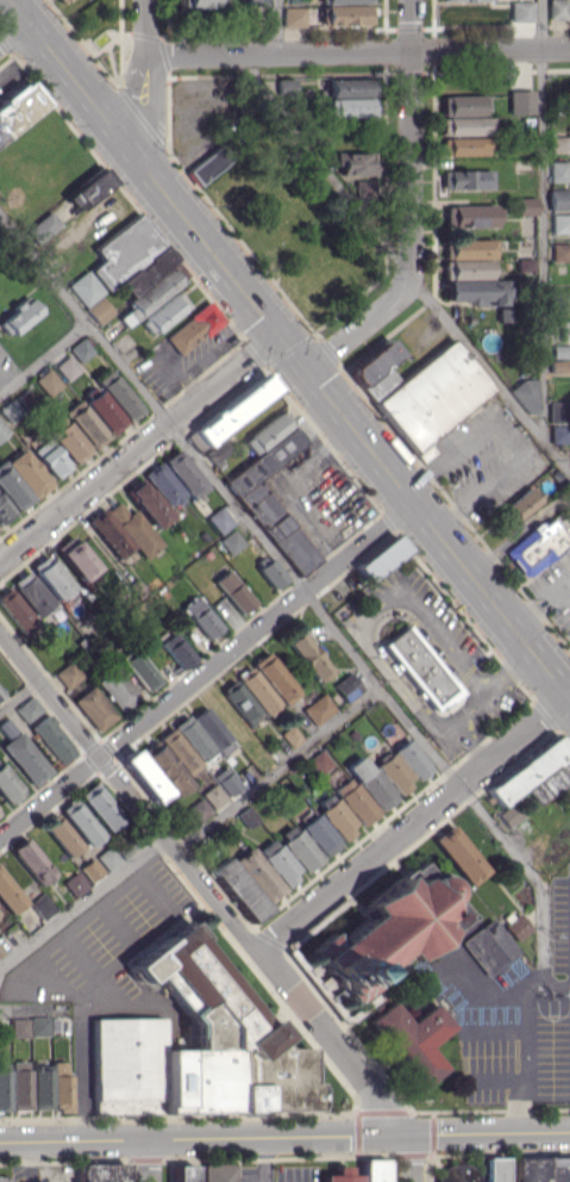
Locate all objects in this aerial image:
building: (481, 0)
building: (62, 1)
building: (344, 1)
building: (203, 2)
building: (257, 2)
building: (557, 10)
road: (15, 11)
building: (521, 11)
building: (344, 14)
building: (293, 15)
road: (277, 26)
road: (12, 32)
road: (357, 51)
road: (144, 81)
building: (284, 86)
building: (347, 87)
building: (520, 101)
building: (462, 105)
building: (19, 107)
building: (346, 107)
building: (465, 125)
building: (557, 142)
building: (463, 145)
building: (355, 162)
building: (208, 163)
building: (558, 172)
building: (465, 179)
building: (88, 189)
building: (364, 189)
building: (559, 198)
building: (526, 205)
road: (411, 207)
building: (469, 214)
road: (543, 219)
building: (560, 223)
building: (40, 226)
building: (468, 248)
building: (560, 251)
building: (130, 256)
road: (403, 263)
building: (465, 268)
building: (84, 287)
building: (475, 291)
building: (154, 292)
building: (98, 310)
building: (163, 312)
building: (18, 317)
building: (193, 328)
building: (565, 329)
traffic signals: (276, 330)
building: (80, 349)
road: (44, 355)
road: (297, 359)
building: (67, 367)
traffic signals: (305, 367)
building: (375, 369)
building: (48, 381)
building: (117, 394)
building: (432, 396)
building: (527, 397)
building: (102, 409)
building: (233, 409)
building: (557, 411)
building: (84, 424)
building: (2, 430)
building: (265, 431)
road: (514, 434)
building: (559, 434)
building: (67, 441)
road: (137, 443)
building: (49, 458)
building: (183, 473)
building: (20, 479)
building: (163, 484)
building: (271, 502)
building: (520, 503)
building: (146, 504)
building: (4, 511)
building: (219, 520)
building: (133, 529)
building: (108, 533)
building: (230, 541)
building: (538, 545)
building: (75, 558)
building: (380, 558)
building: (270, 572)
building: (50, 577)
road: (300, 589)
building: (232, 591)
building: (32, 593)
building: (15, 610)
building: (200, 617)
road: (355, 626)
building: (176, 651)
building: (308, 655)
building: (418, 665)
road: (206, 668)
road: (505, 668)
building: (139, 670)
building: (67, 674)
building: (274, 677)
building: (346, 686)
building: (115, 689)
building: (257, 690)
road: (19, 695)
building: (238, 701)
building: (93, 708)
building: (318, 708)
building: (27, 709)
building: (212, 730)
building: (290, 735)
building: (193, 738)
road: (470, 738)
building: (51, 739)
building: (178, 751)
building: (21, 753)
building: (320, 761)
building: (402, 766)
building: (164, 767)
road: (277, 770)
building: (534, 773)
building: (143, 776)
building: (226, 780)
building: (370, 782)
building: (8, 785)
building: (213, 795)
building: (355, 801)
building: (100, 805)
building: (198, 809)
building: (336, 815)
building: (80, 822)
road: (413, 822)
building: (319, 834)
building: (62, 836)
building: (297, 847)
building: (459, 854)
building: (31, 860)
building: (277, 860)
building: (90, 869)
building: (258, 873)
building: (74, 884)
road: (202, 884)
building: (237, 889)
building: (8, 895)
road: (81, 902)
building: (42, 906)
building: (516, 927)
building: (392, 929)
road: (56, 940)
building: (488, 947)
road: (558, 987)
road: (526, 1020)
building: (38, 1026)
building: (19, 1027)
building: (412, 1039)
building: (195, 1046)
building: (18, 1084)
building: (39, 1085)
building: (59, 1087)
building: (4, 1090)
road: (519, 1100)
road: (284, 1134)
road: (411, 1157)
road: (265, 1158)
road: (149, 1159)
road: (27, 1161)
building: (491, 1169)
building: (541, 1169)
building: (374, 1170)
building: (101, 1172)
building: (219, 1172)
building: (457, 1172)
building: (182, 1174)
building: (340, 1175)
building: (5, 1178)

